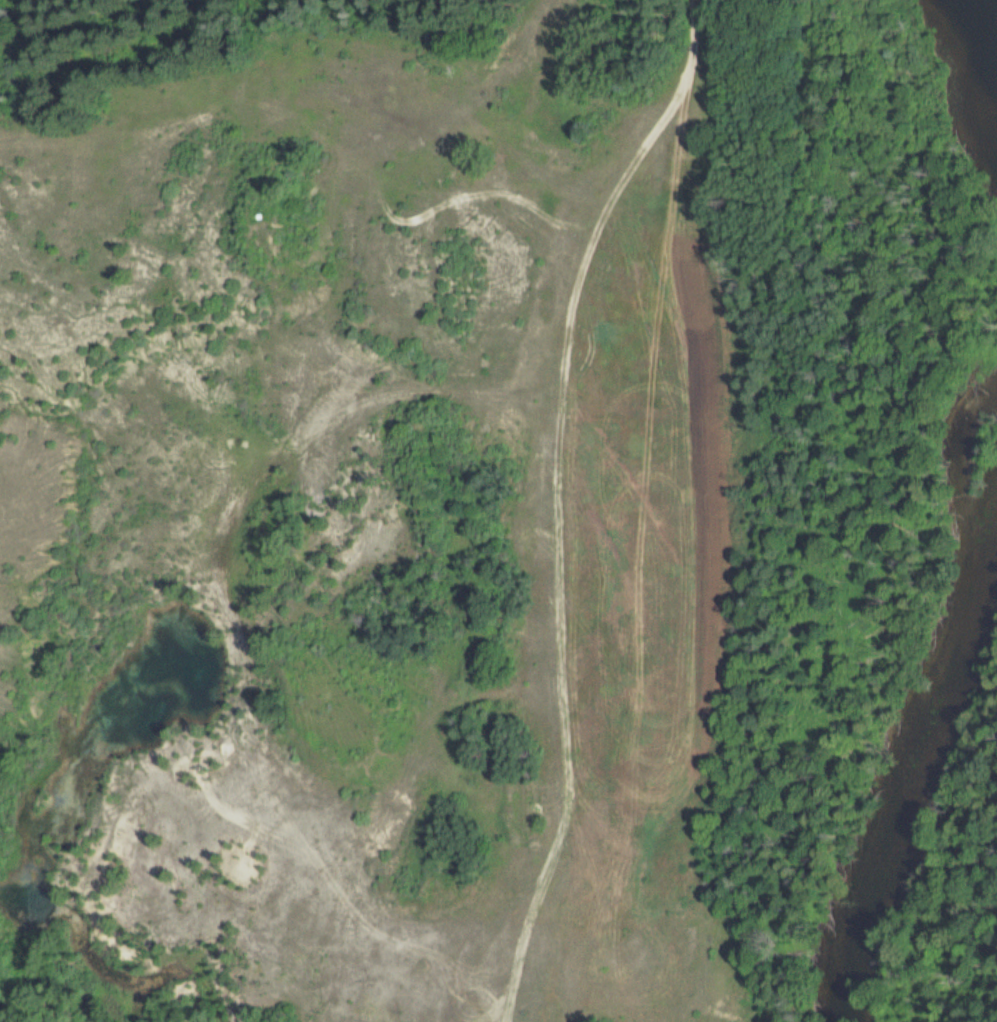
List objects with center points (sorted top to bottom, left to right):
river: (914, 742)

